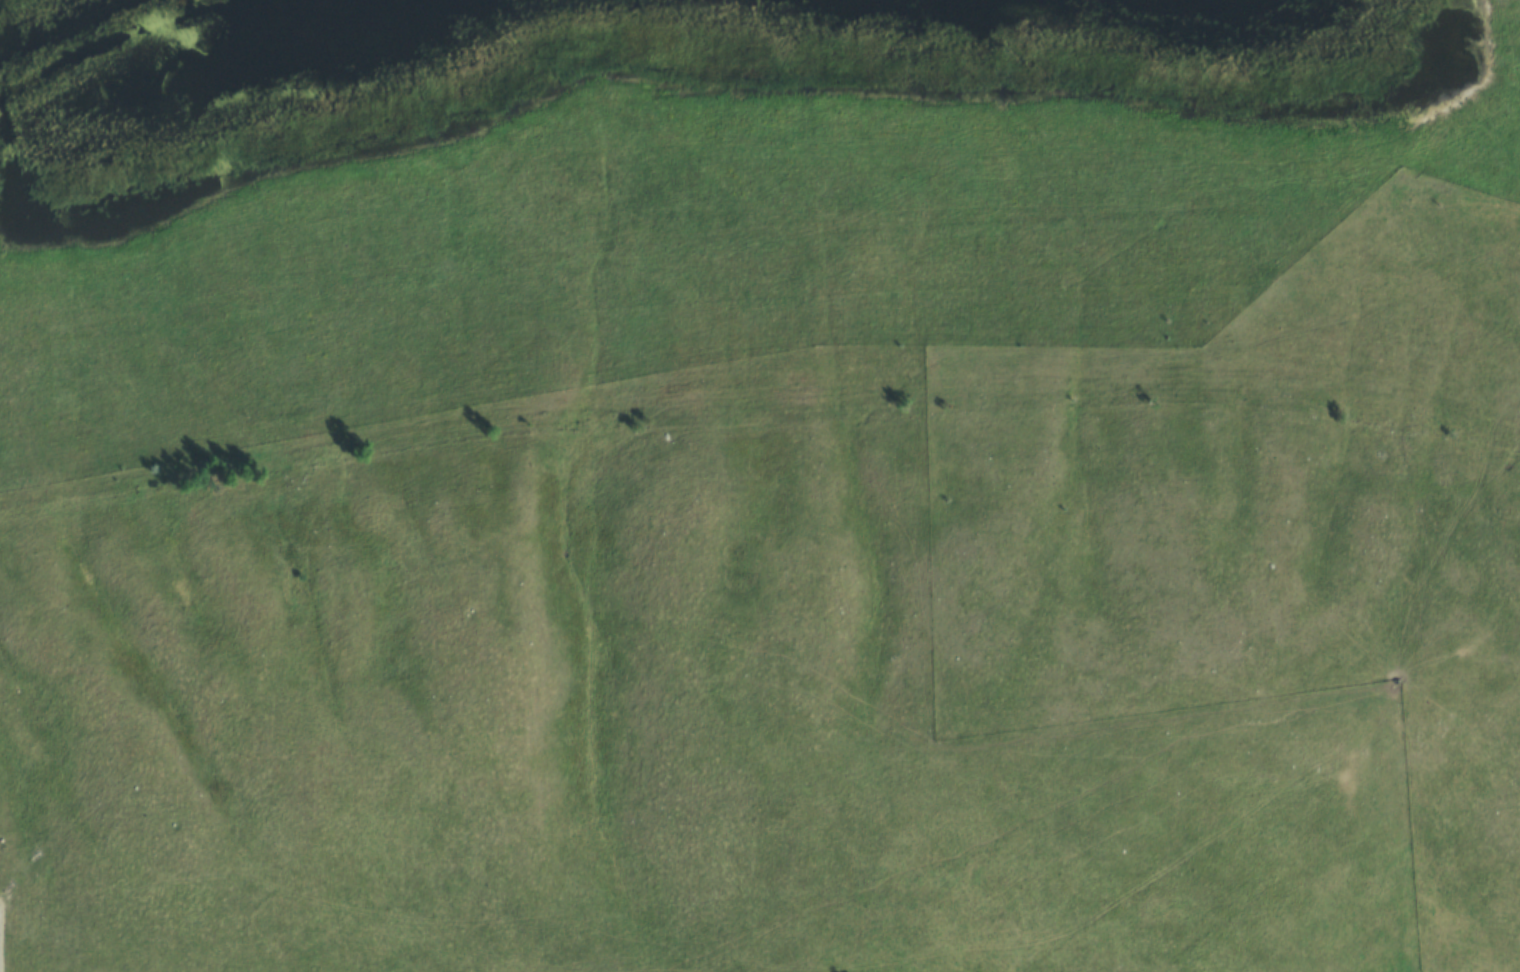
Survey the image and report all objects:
building: (4, 907)

